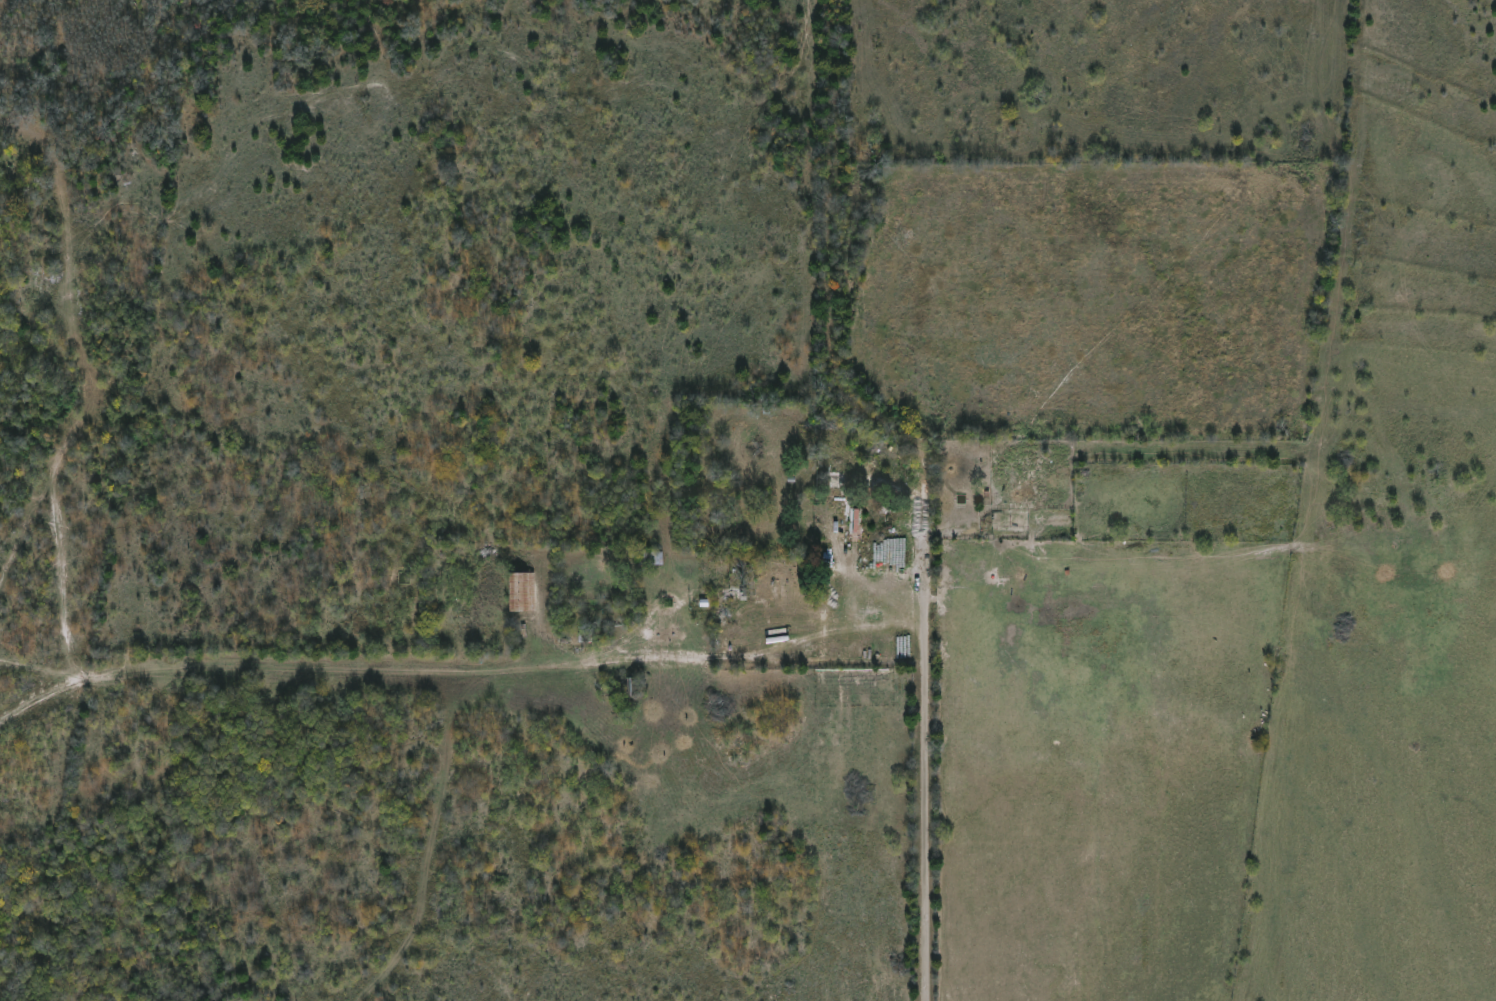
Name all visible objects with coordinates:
building: (40, 281)
building: (838, 485)
building: (1031, 487)
building: (845, 527)
building: (651, 558)
building: (777, 586)
building: (522, 593)
road: (456, 663)
road: (923, 743)

